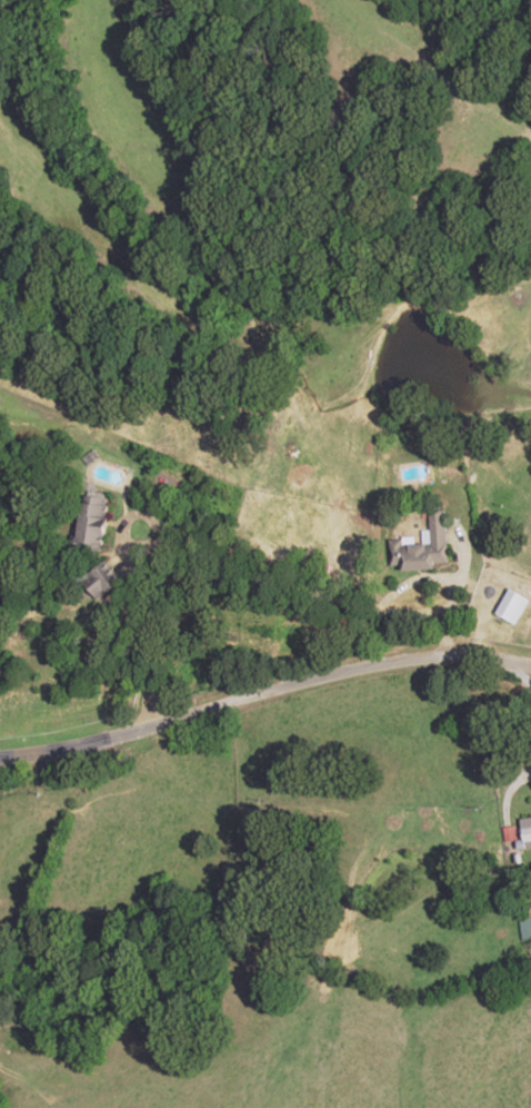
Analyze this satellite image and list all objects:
building: (94, 523)
building: (425, 547)
road: (127, 570)
building: (104, 580)
road: (263, 686)
building: (528, 829)
building: (527, 927)

